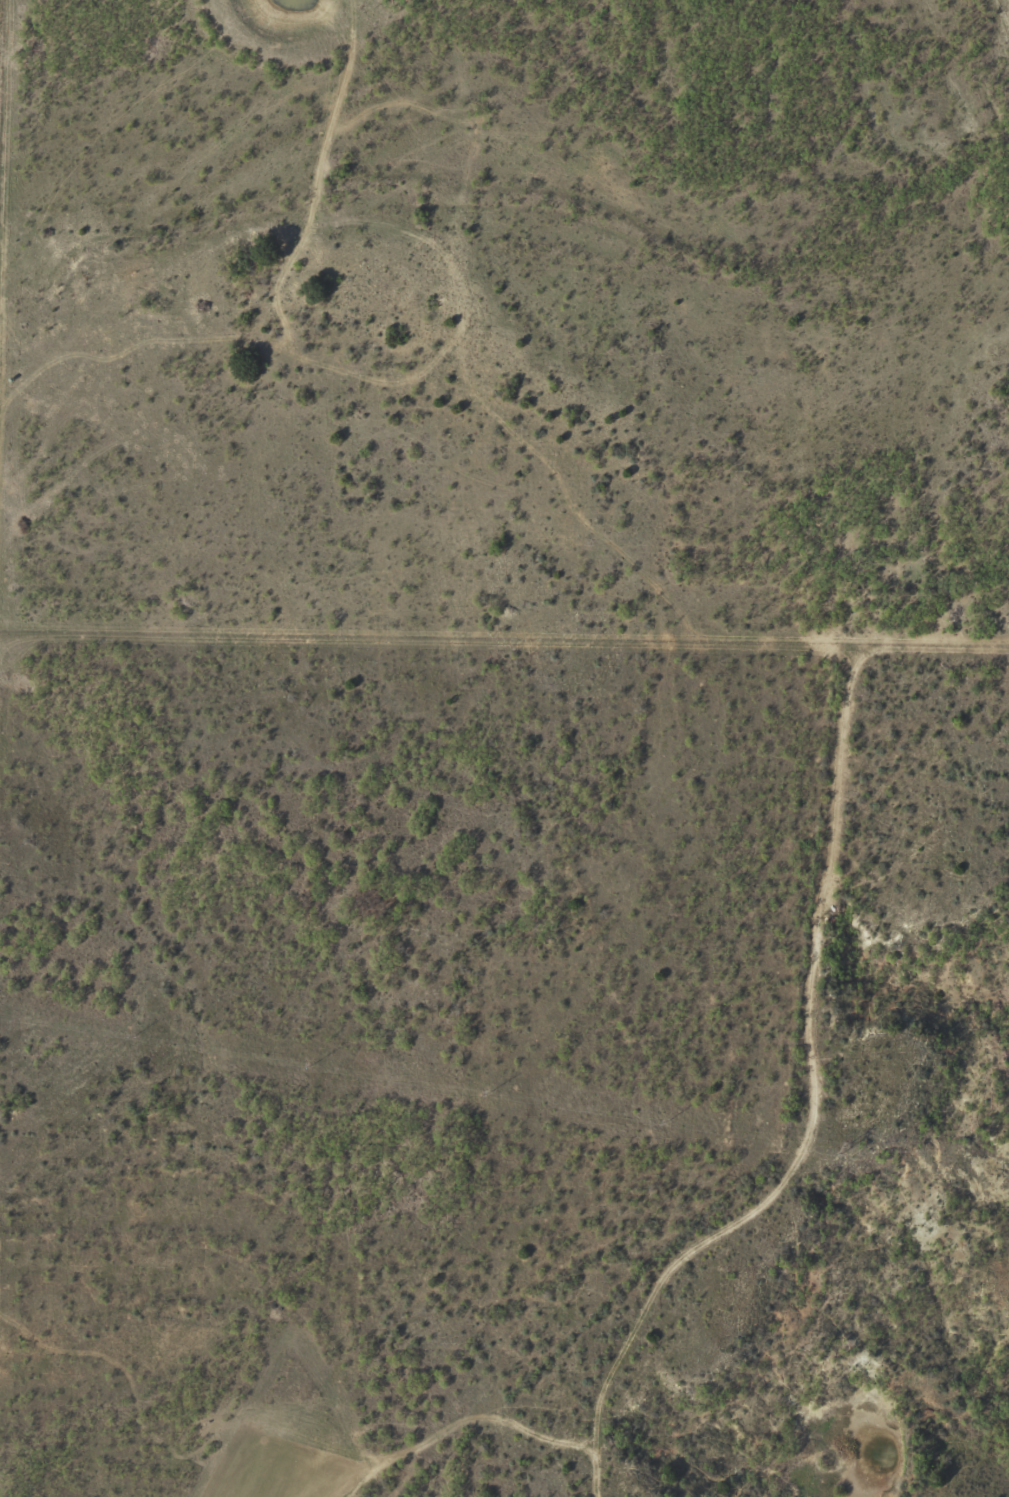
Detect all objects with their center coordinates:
road: (943, 590)

